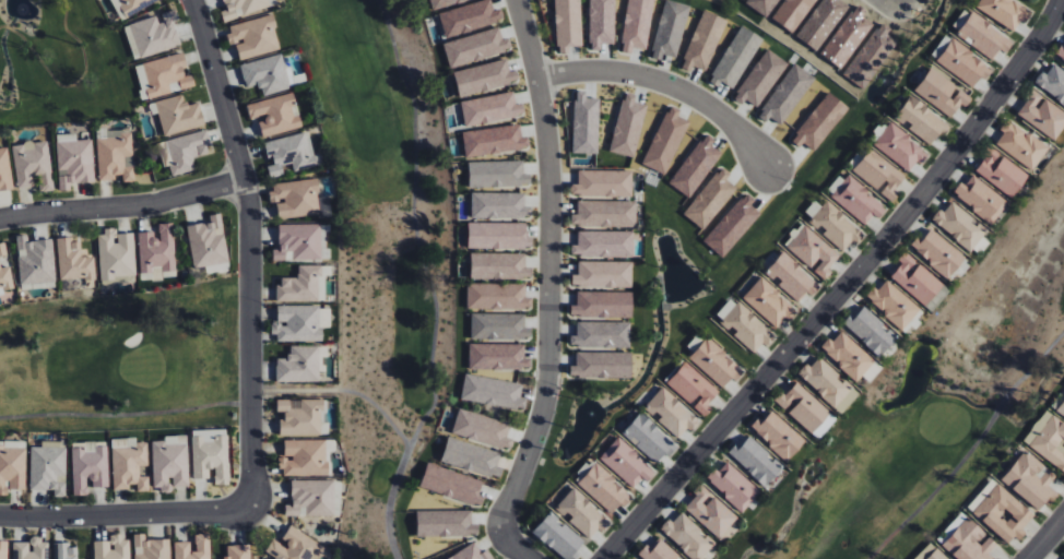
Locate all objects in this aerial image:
building: (133, 5)
building: (241, 8)
building: (1004, 11)
fountain: (24, 12)
fountain: (743, 13)
building: (601, 23)
building: (567, 25)
building: (637, 25)
building: (154, 34)
building: (981, 34)
building: (255, 37)
building: (475, 47)
building: (1060, 52)
building: (963, 62)
building: (265, 74)
building: (164, 75)
building: (484, 76)
fountain: (884, 82)
building: (1052, 82)
road: (666, 84)
road: (72, 85)
building: (942, 92)
fountain: (7, 99)
building: (490, 108)
building: (1042, 114)
building: (274, 115)
building: (921, 119)
building: (586, 122)
building: (628, 126)
building: (494, 141)
building: (1021, 144)
building: (900, 146)
building: (182, 152)
building: (289, 153)
building: (116, 155)
building: (73, 160)
building: (33, 165)
building: (4, 170)
building: (1002, 171)
building: (879, 173)
building: (497, 174)
building: (603, 183)
building: (295, 198)
building: (981, 199)
building: (858, 200)
building: (499, 205)
road: (123, 206)
building: (605, 213)
building: (835, 225)
building: (960, 225)
building: (498, 235)
building: (298, 242)
building: (208, 243)
building: (603, 243)
building: (157, 248)
building: (2, 249)
building: (812, 250)
road: (249, 251)
building: (938, 252)
building: (116, 255)
building: (35, 261)
building: (73, 261)
building: (499, 265)
building: (603, 274)
building: (792, 276)
road: (431, 278)
building: (917, 278)
building: (5, 279)
park: (397, 279)
building: (305, 284)
road: (548, 287)
road: (843, 287)
building: (496, 297)
building: (769, 302)
building: (894, 304)
building: (602, 305)
building: (302, 322)
building: (744, 324)
building: (498, 326)
building: (871, 331)
building: (602, 334)
building: (848, 355)
building: (496, 357)
building: (716, 362)
building: (299, 365)
building: (601, 366)
building: (872, 371)
building: (829, 383)
building: (693, 388)
building: (493, 391)
road: (217, 404)
park: (932, 404)
building: (1061, 408)
building: (807, 409)
building: (672, 413)
fountain: (591, 415)
building: (300, 416)
building: (482, 428)
building: (779, 435)
building: (649, 438)
building: (1048, 439)
road: (972, 451)
building: (211, 454)
building: (304, 457)
building: (471, 457)
building: (756, 460)
building: (170, 462)
building: (627, 463)
building: (129, 464)
building: (12, 465)
building: (88, 466)
building: (48, 467)
fountain: (811, 474)
building: (1030, 479)
building: (451, 484)
building: (733, 485)
building: (603, 487)
building: (312, 498)
road: (125, 513)
building: (582, 513)
building: (711, 513)
building: (1003, 513)
building: (444, 523)
building: (558, 536)
building: (687, 536)
road: (1045, 538)
building: (970, 542)
building: (181, 546)
building: (295, 546)
building: (113, 548)
building: (151, 548)
building: (3, 549)
building: (31, 549)
building: (64, 550)
building: (238, 551)
building: (658, 551)
building: (931, 552)
building: (471, 554)
road: (397, 556)

